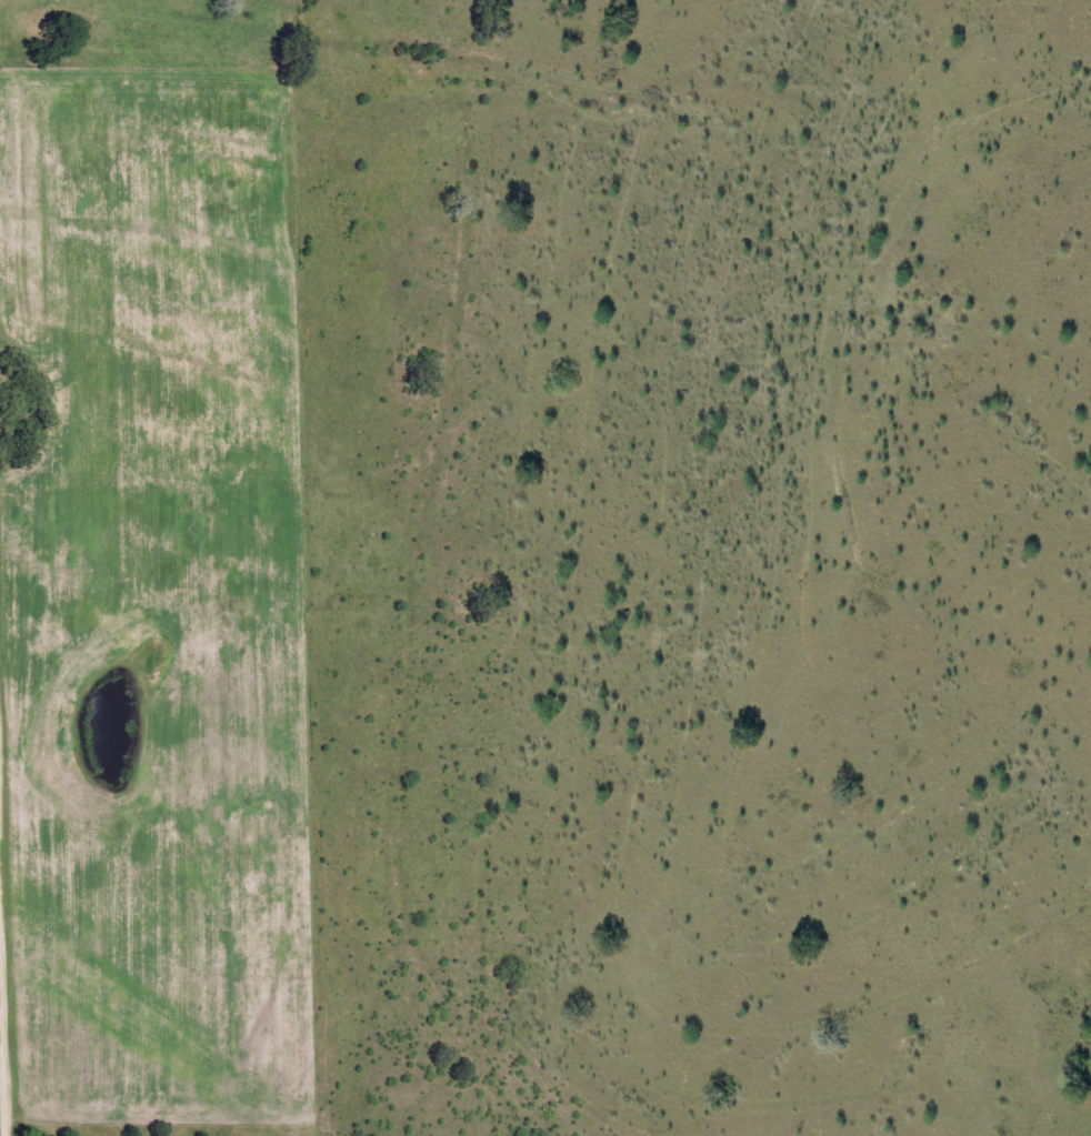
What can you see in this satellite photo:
road: (0, 1119)

